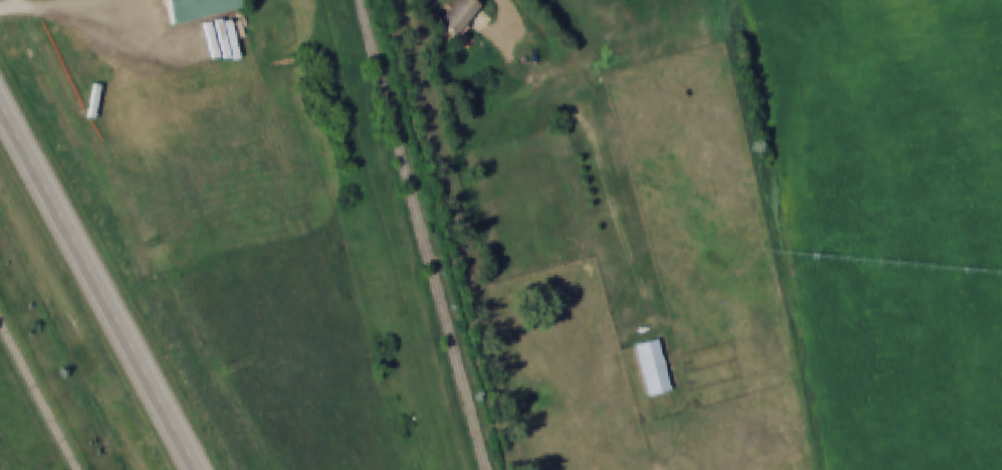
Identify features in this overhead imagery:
building: (197, 8)
building: (458, 15)
road: (598, 149)
railway: (425, 235)
road: (95, 289)
building: (652, 367)
road: (38, 393)

